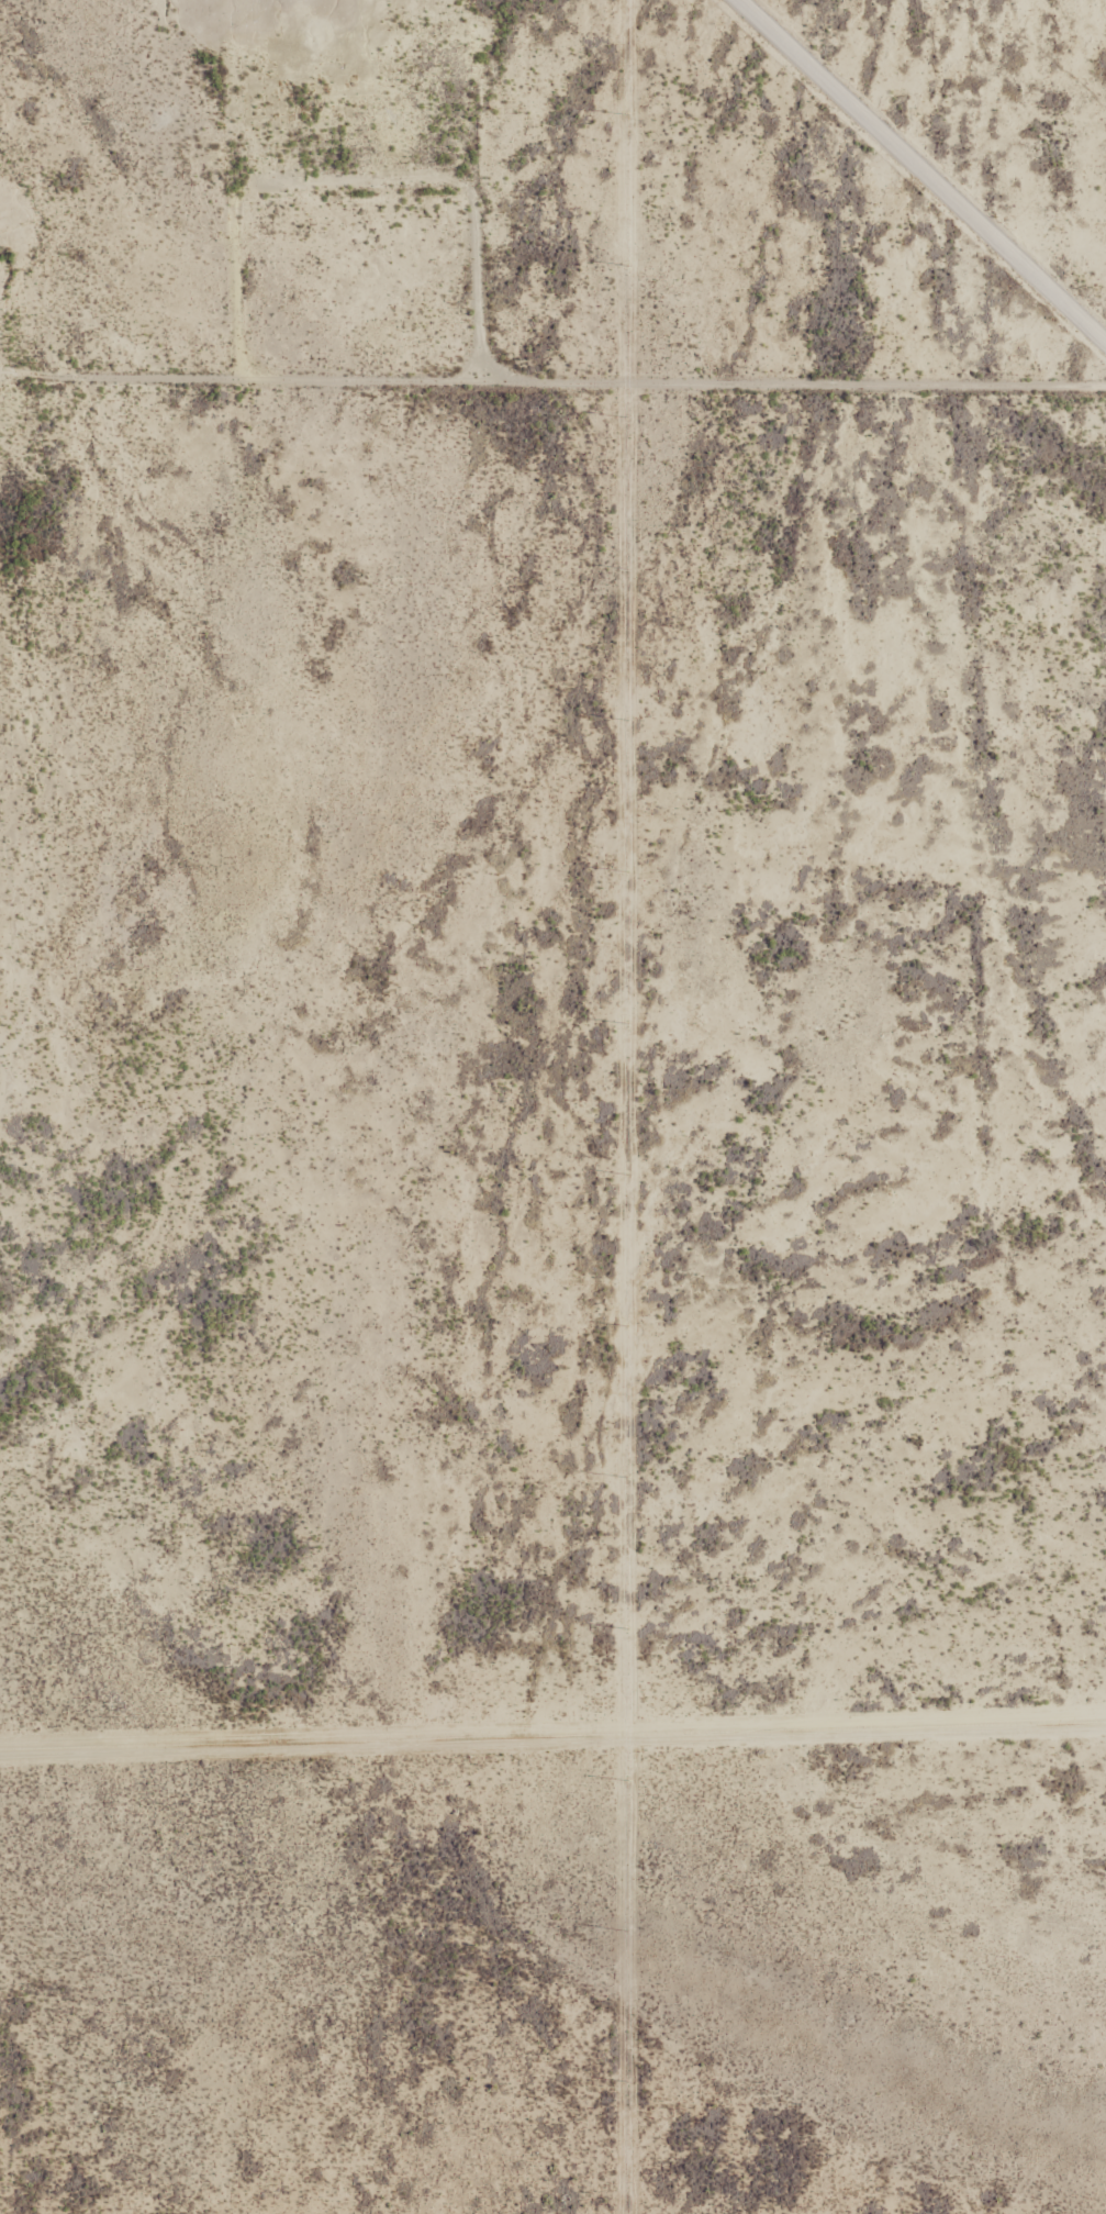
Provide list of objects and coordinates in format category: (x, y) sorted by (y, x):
road: (919, 169)

